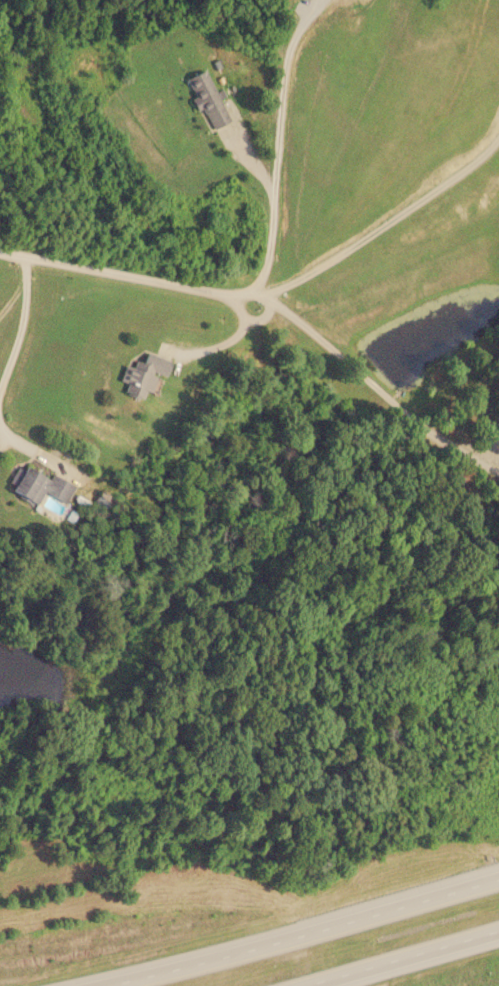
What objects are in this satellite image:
building: (207, 98)
road: (132, 273)
building: (142, 373)
building: (40, 485)
road: (336, 939)
road: (421, 962)

